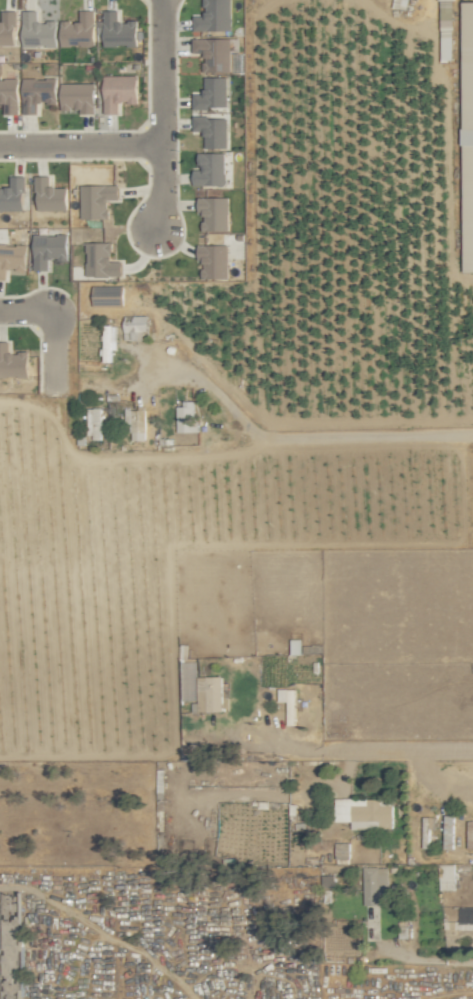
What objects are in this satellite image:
building: (213, 16)
building: (7, 27)
building: (37, 30)
building: (78, 30)
building: (118, 30)
building: (215, 52)
road: (163, 72)
building: (467, 74)
building: (118, 91)
building: (37, 93)
building: (211, 93)
building: (9, 95)
building: (77, 96)
building: (212, 130)
road: (82, 145)
building: (210, 169)
road: (163, 187)
building: (12, 195)
building: (49, 195)
building: (96, 200)
building: (213, 213)
building: (468, 221)
building: (48, 249)
building: (12, 258)
building: (100, 260)
building: (213, 261)
building: (107, 295)
road: (26, 308)
building: (123, 333)
road: (53, 348)
building: (12, 362)
building: (186, 418)
building: (93, 423)
building: (136, 424)
road: (290, 440)
building: (209, 694)
road: (280, 748)
road: (397, 751)
building: (364, 812)
building: (427, 825)
building: (448, 832)
building: (341, 853)
building: (445, 877)
building: (374, 886)
building: (463, 919)
building: (11, 946)
road: (424, 957)

